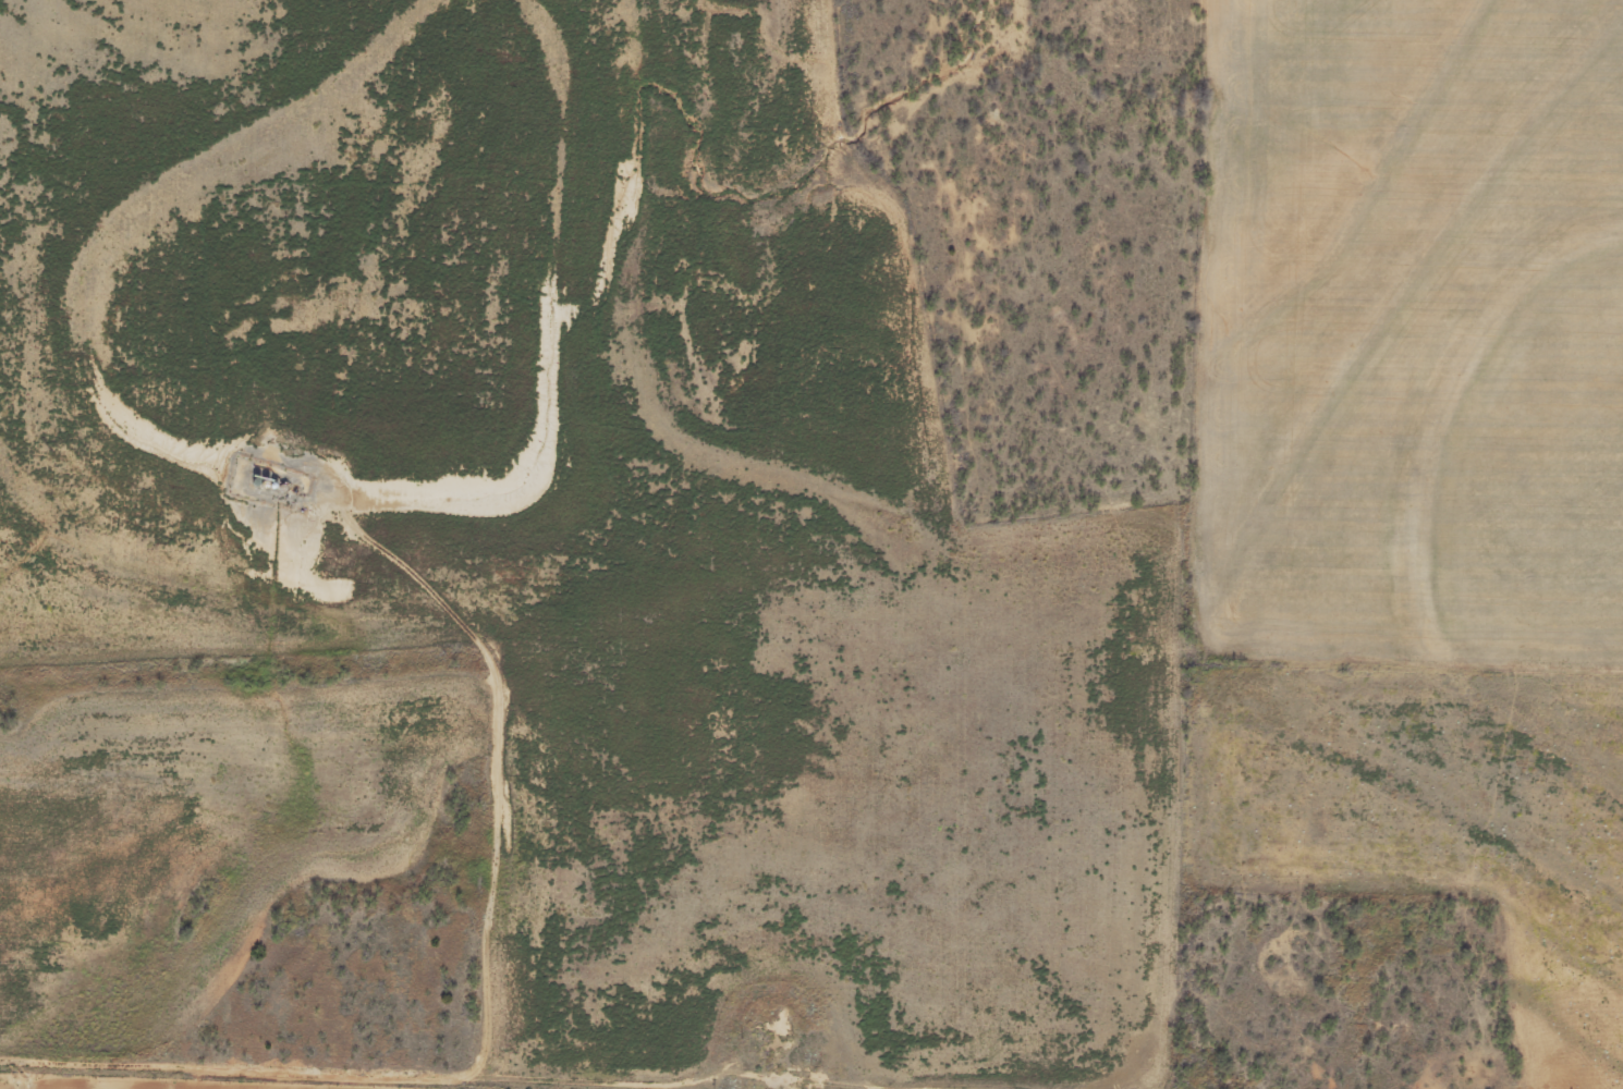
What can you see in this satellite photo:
road: (436, 1076)

